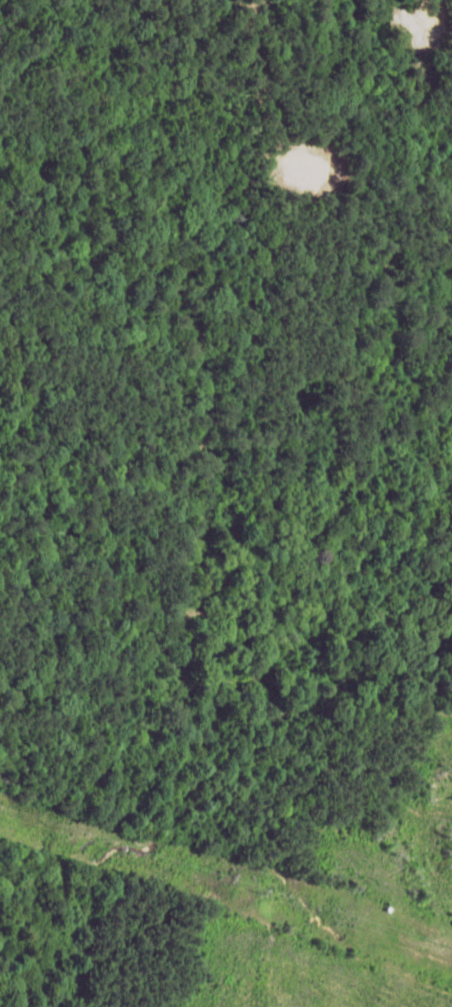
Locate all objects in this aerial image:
power tower: (252, 893)

